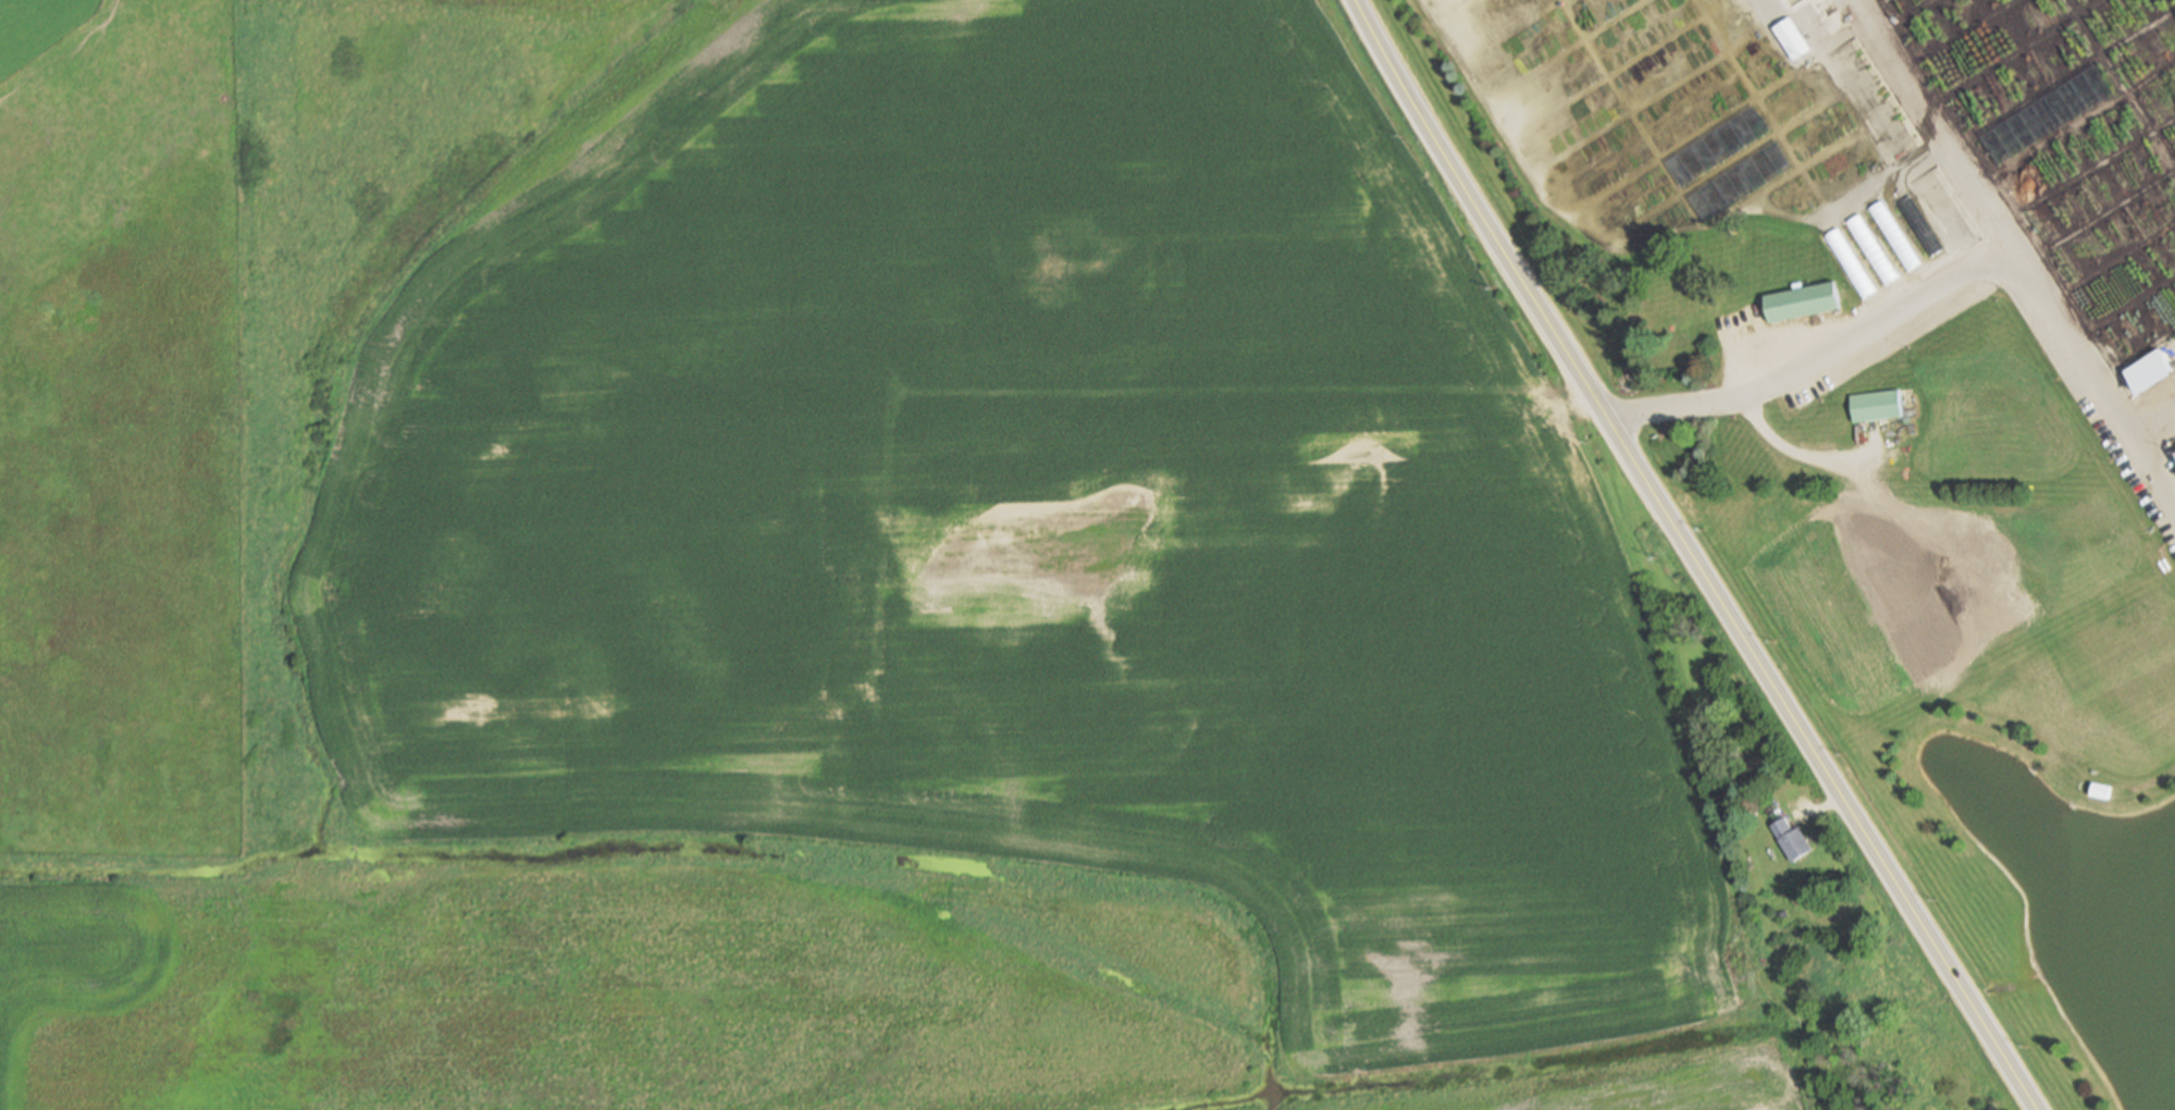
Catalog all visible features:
road: (1426, 11)
road: (1903, 18)
road: (1973, 28)
road: (1508, 30)
road: (1840, 34)
building: (1793, 37)
road: (1561, 49)
road: (2013, 58)
road: (1734, 65)
road: (1603, 76)
road: (1614, 76)
road: (1838, 78)
road: (1793, 81)
road: (2061, 82)
road: (2118, 85)
road: (1805, 108)
road: (1629, 115)
road: (2072, 125)
road: (1657, 156)
road: (1813, 163)
road: (1803, 173)
road: (2084, 173)
road: (1880, 181)
road: (1553, 208)
road: (1987, 219)
road: (2096, 219)
building: (1920, 225)
building: (1894, 234)
building: (1871, 248)
building: (1850, 261)
road: (2106, 264)
building: (1803, 300)
road: (2118, 309)
building: (1665, 313)
road: (1815, 358)
road: (2134, 362)
building: (2150, 370)
building: (1877, 405)
road: (2150, 421)
road: (1862, 455)
road: (1827, 459)
road: (2150, 476)
road: (1694, 556)
road: (2147, 785)
building: (2101, 790)
building: (1791, 838)

